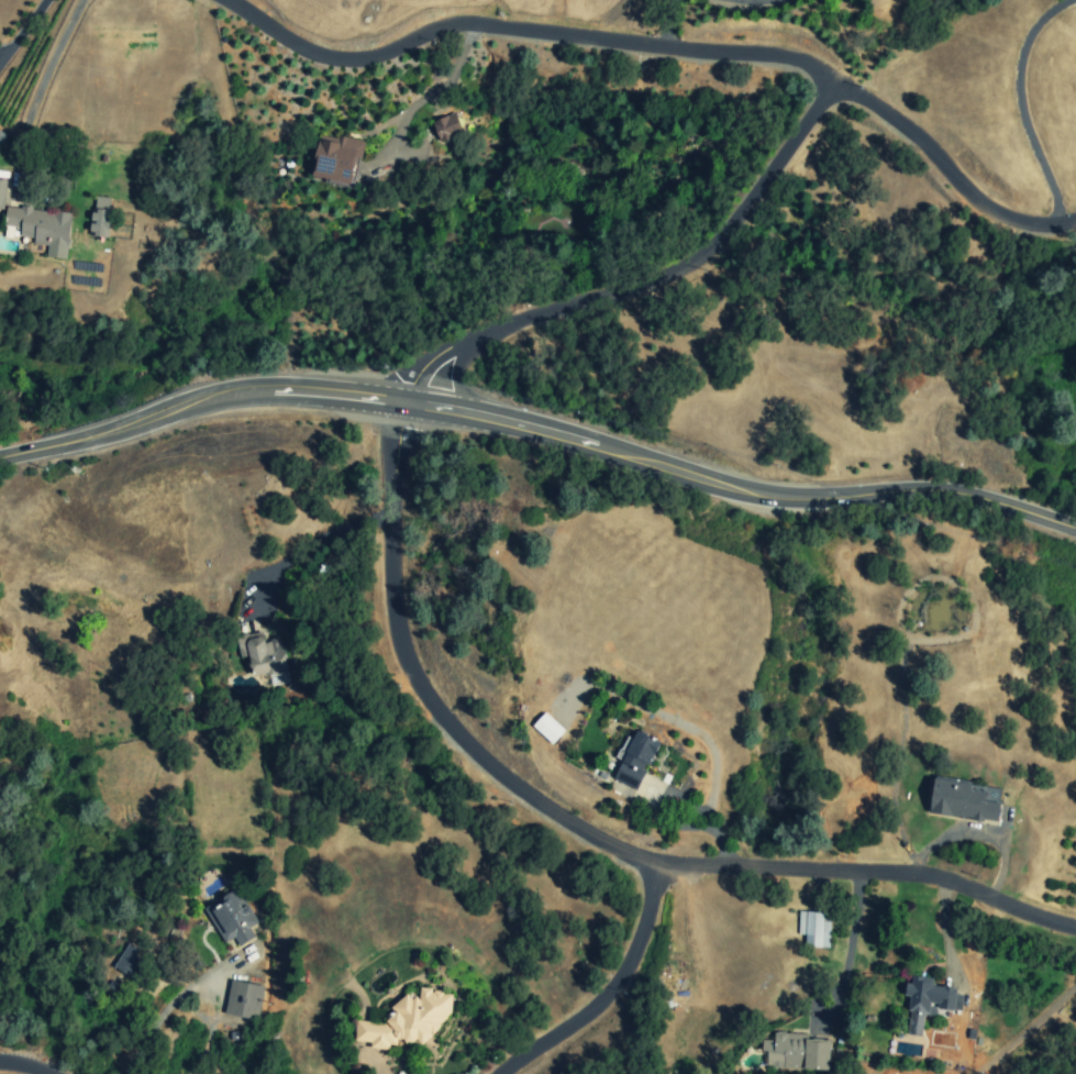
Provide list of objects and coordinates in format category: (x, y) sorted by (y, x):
road: (666, 21)
road: (21, 30)
road: (520, 30)
road: (431, 87)
road: (35, 93)
road: (1020, 106)
building: (447, 126)
building: (336, 158)
road: (945, 173)
building: (2, 193)
building: (100, 217)
building: (42, 228)
road: (646, 278)
road: (539, 432)
road: (309, 543)
building: (263, 655)
building: (547, 728)
building: (634, 760)
road: (676, 797)
building: (961, 801)
road: (592, 823)
road: (975, 833)
building: (232, 918)
building: (814, 929)
road: (851, 933)
building: (130, 961)
building: (244, 999)
building: (925, 1001)
road: (622, 1005)
road: (165, 1011)
building: (408, 1020)
road: (1025, 1029)
building: (795, 1052)
road: (23, 1067)

